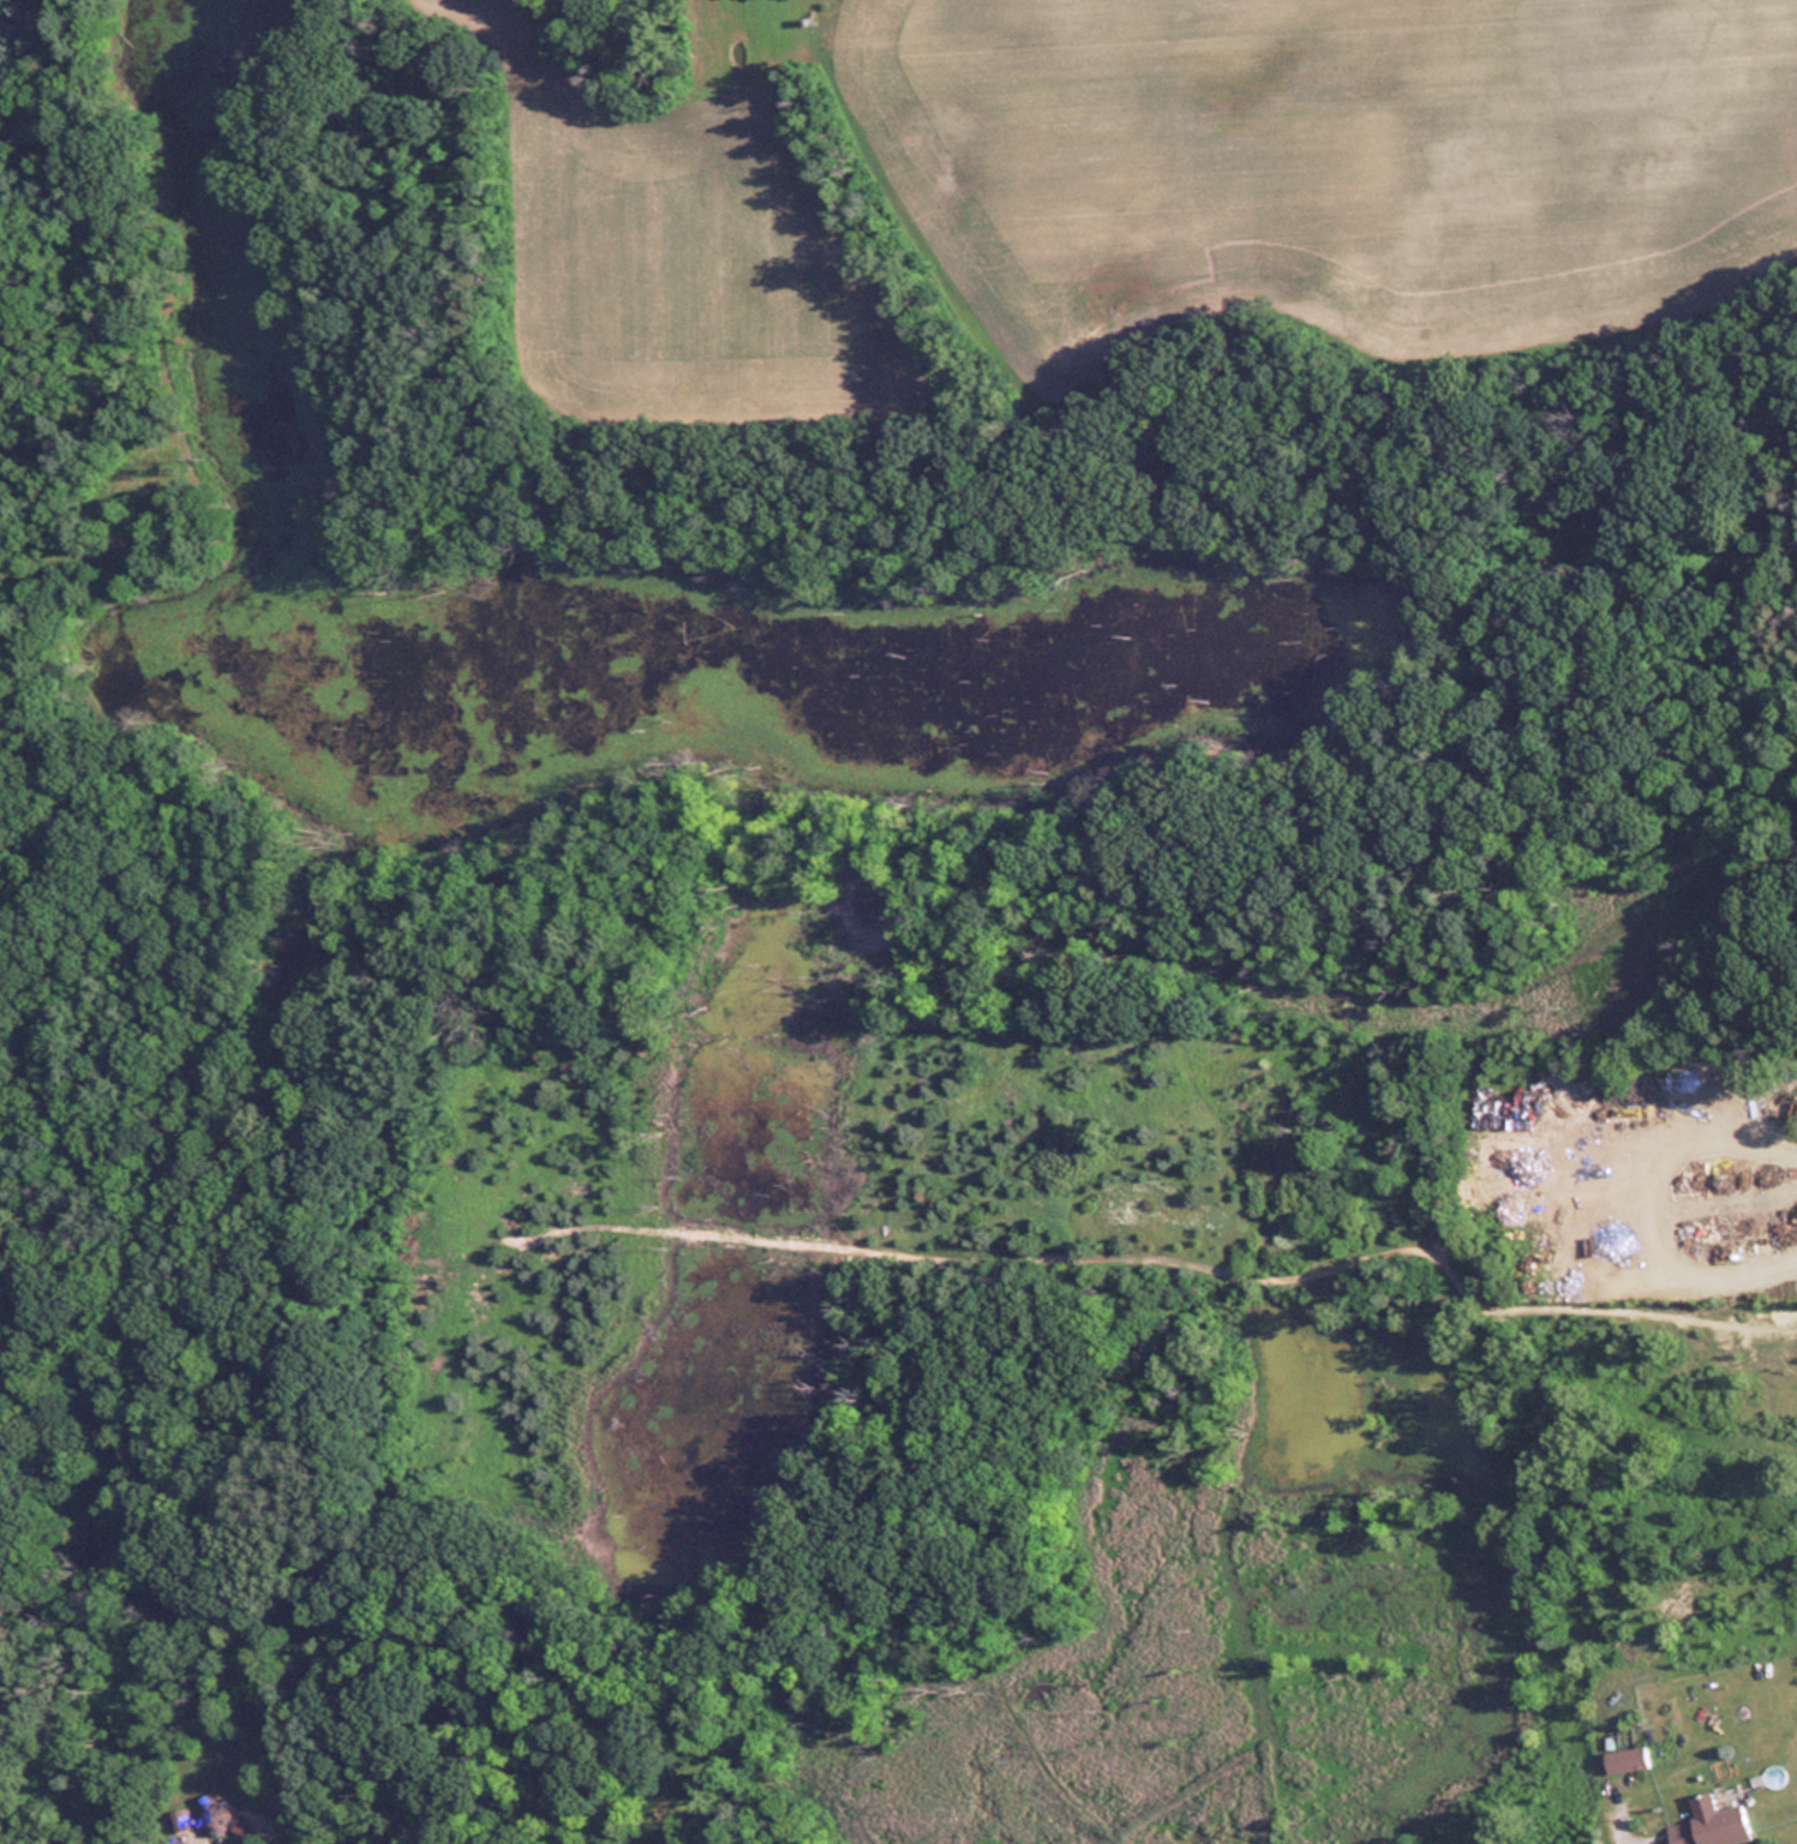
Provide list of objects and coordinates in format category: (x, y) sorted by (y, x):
building: (1625, 1759)
building: (1708, 1824)

